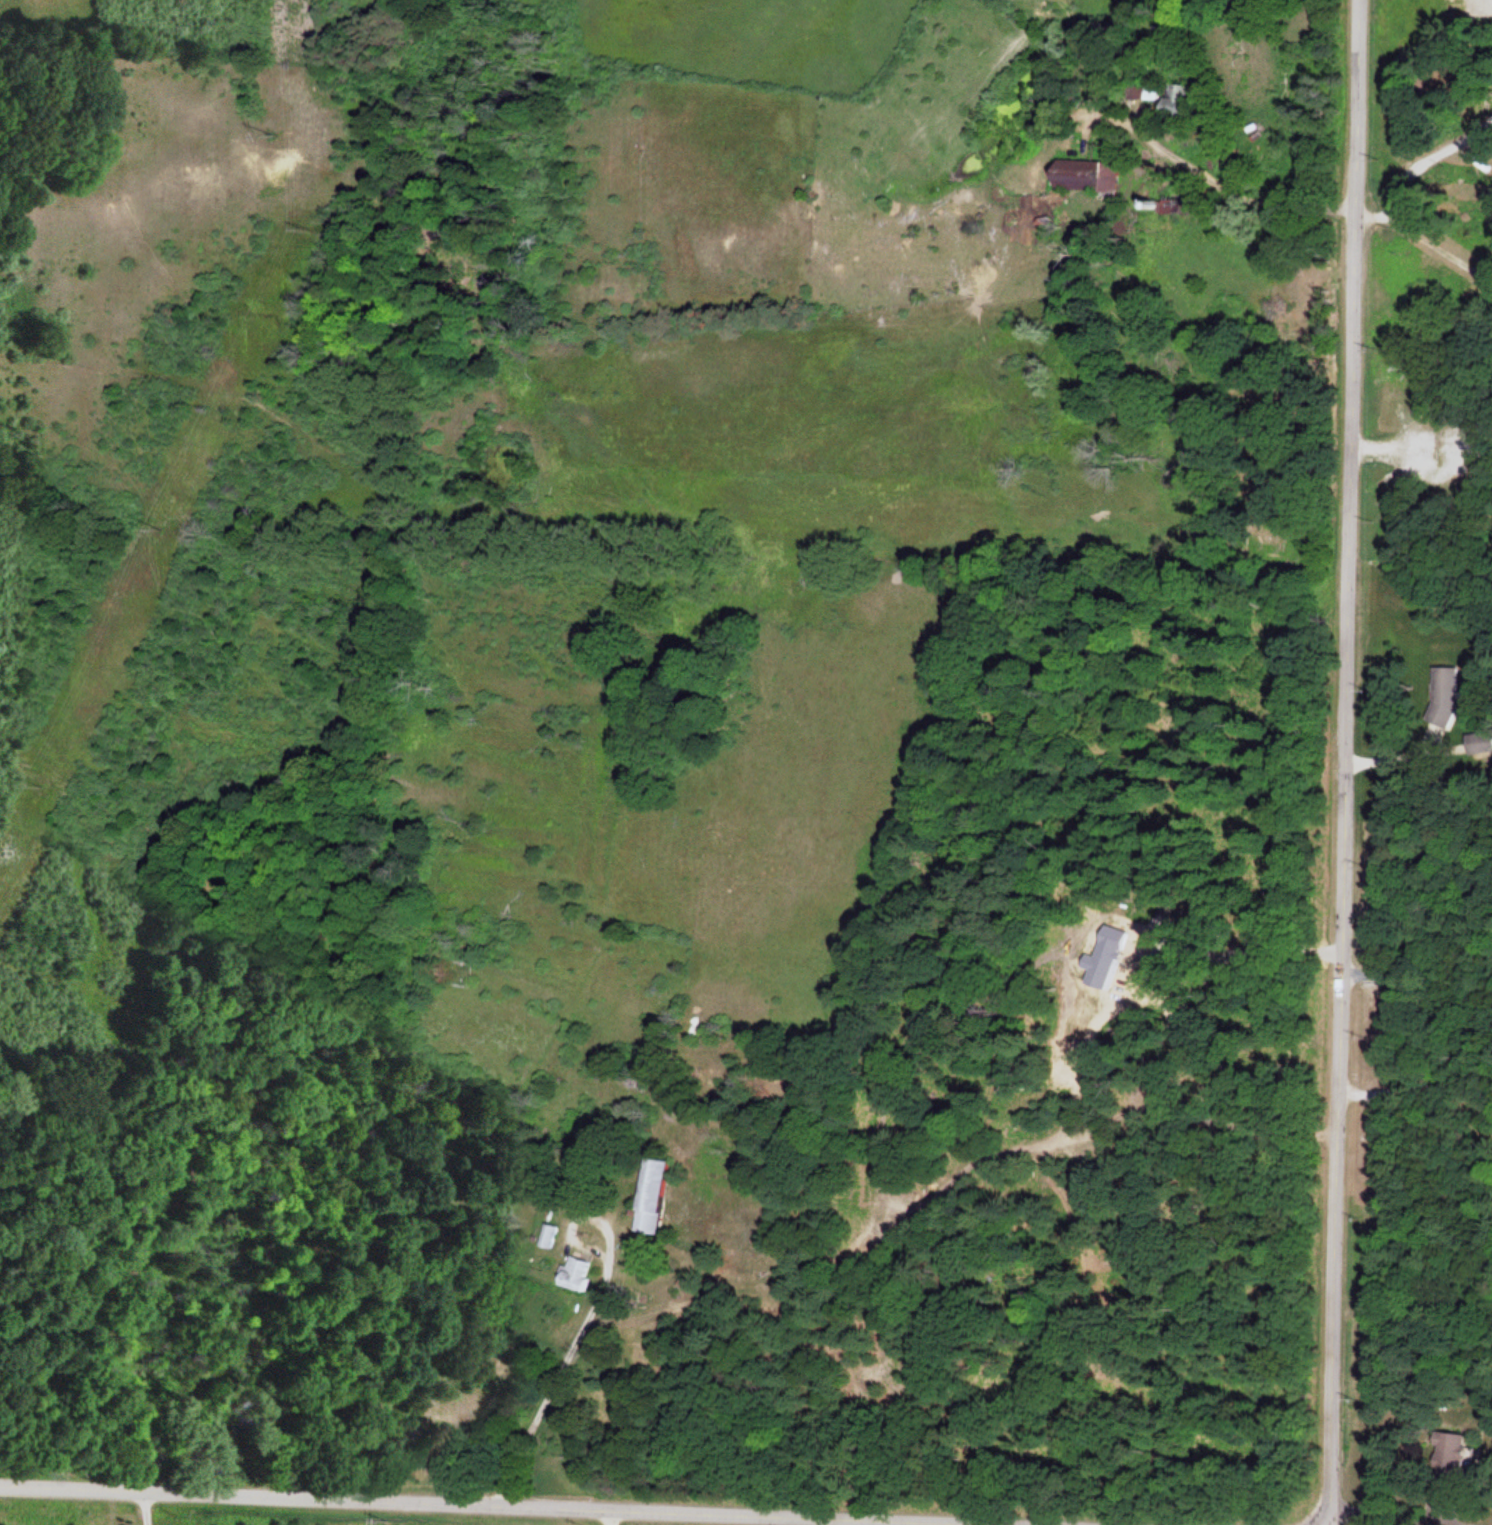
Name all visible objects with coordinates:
building: (1178, 99)
building: (1445, 696)
road: (1349, 762)
building: (649, 1196)
building: (549, 1237)
building: (575, 1274)
building: (1453, 1453)
road: (541, 1501)

